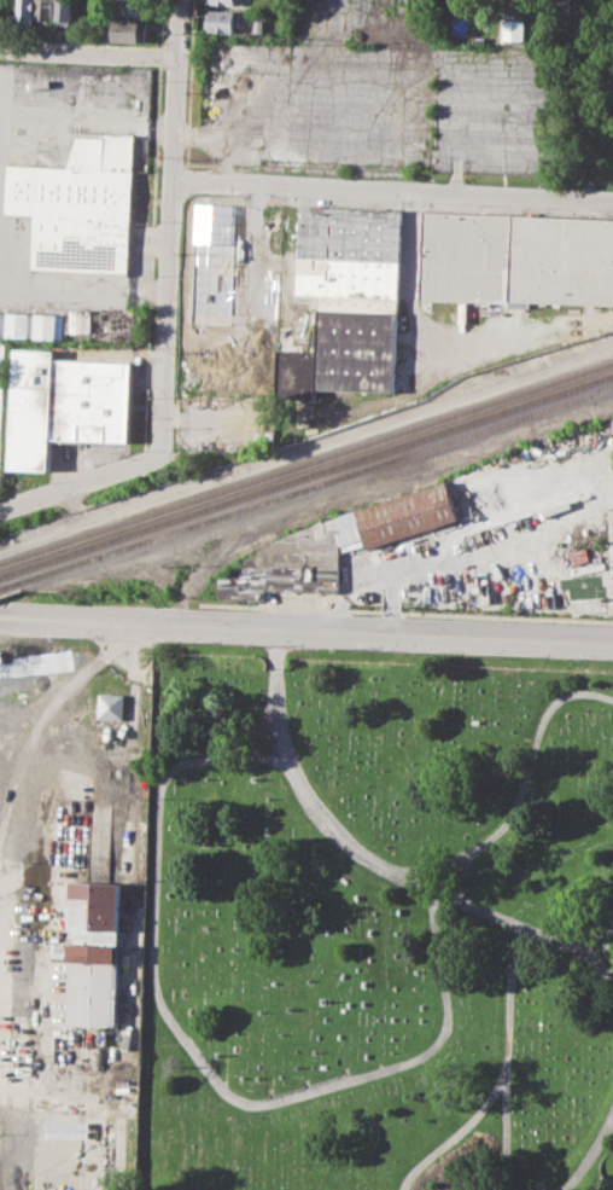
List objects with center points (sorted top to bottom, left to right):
building: (228, 2)
building: (129, 6)
building: (43, 8)
building: (24, 10)
building: (65, 12)
building: (556, 13)
building: (223, 21)
building: (130, 28)
building: (514, 29)
road: (89, 53)
parking lot: (376, 94)
road: (393, 190)
building: (80, 203)
building: (518, 259)
road: (84, 289)
building: (348, 300)
road: (170, 310)
building: (31, 324)
building: (1, 402)
building: (65, 406)
railway: (306, 464)
railway: (305, 475)
railway: (305, 487)
building: (409, 513)
road: (405, 611)
road: (305, 627)
building: (112, 706)
road: (45, 721)
road: (355, 847)
park: (376, 922)
road: (595, 935)
building: (94, 952)
road: (597, 960)
road: (503, 1056)
road: (325, 1090)
road: (455, 1133)
road: (590, 1154)

